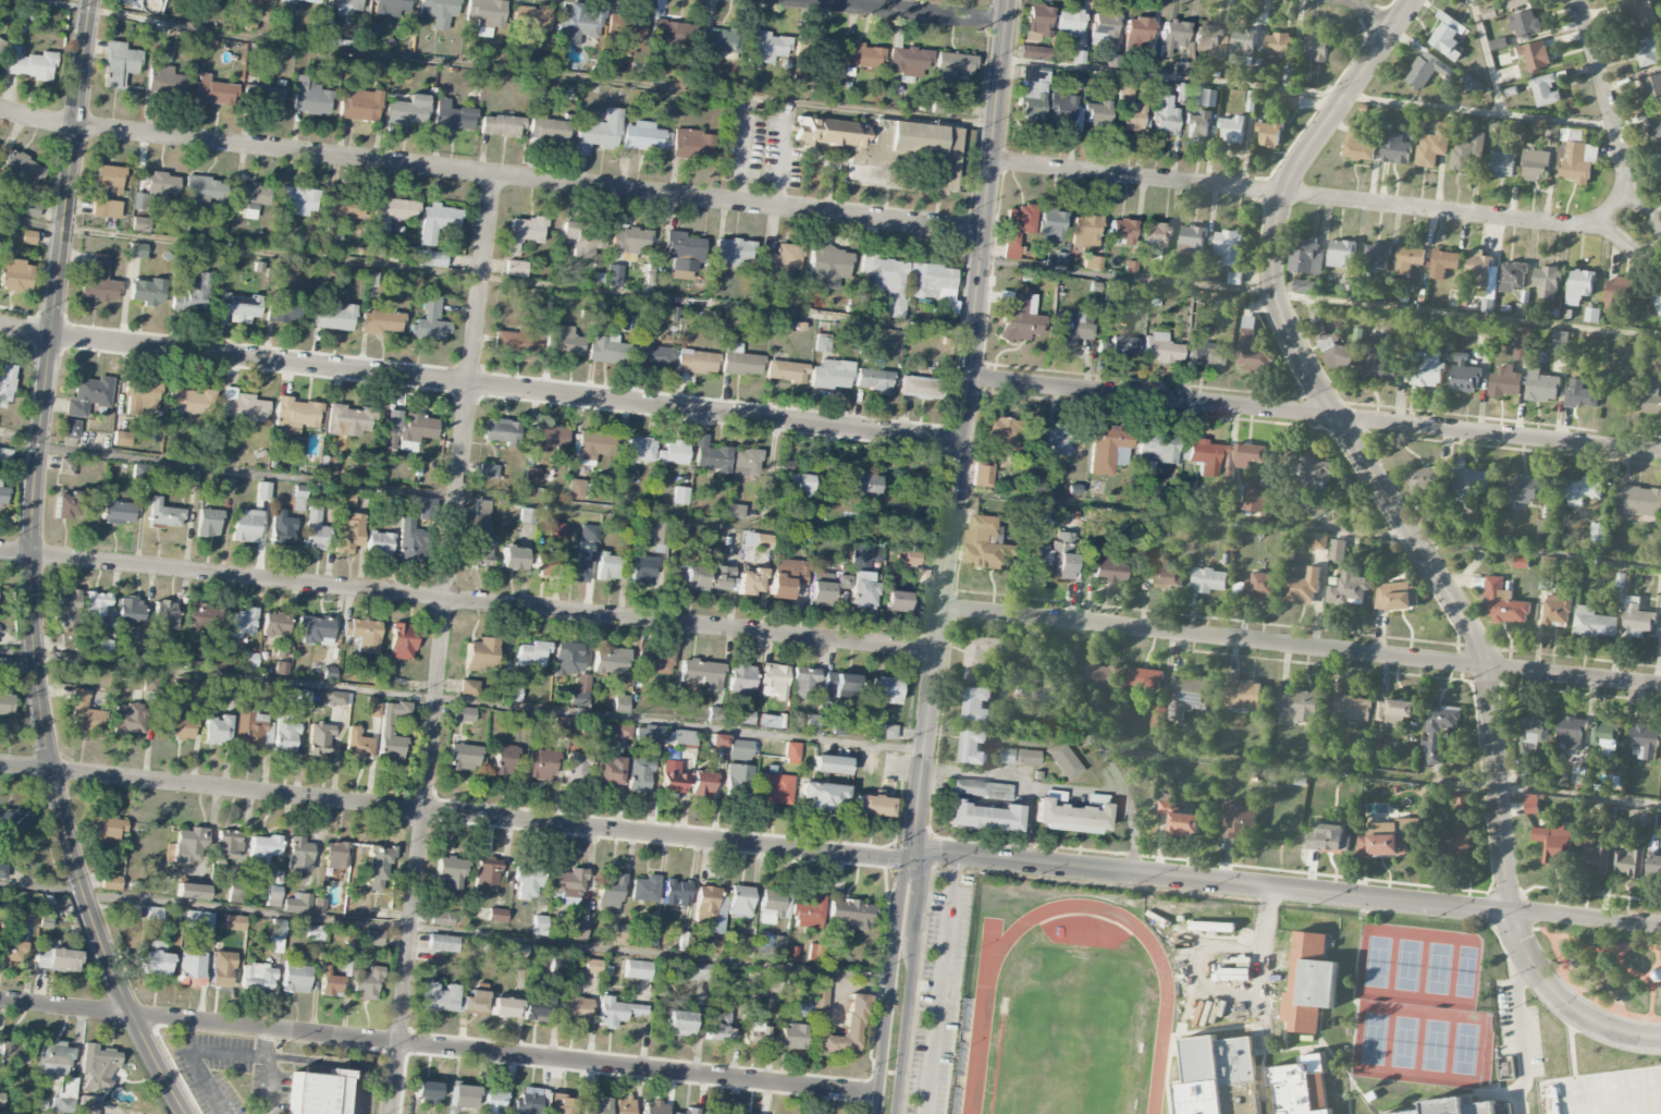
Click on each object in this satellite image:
building: (122, 1)
building: (259, 1)
building: (307, 1)
building: (1517, 3)
building: (344, 5)
building: (392, 7)
building: (439, 12)
road: (901, 12)
road: (1371, 13)
building: (485, 14)
building: (1639, 14)
building: (532, 17)
building: (1037, 20)
building: (1070, 21)
building: (579, 22)
building: (1525, 24)
building: (1104, 27)
building: (1137, 30)
building: (672, 32)
building: (627, 34)
building: (1172, 36)
building: (1208, 36)
building: (1448, 36)
building: (719, 41)
building: (1, 45)
building: (1278, 45)
building: (1498, 45)
building: (1243, 47)
building: (765, 48)
building: (1317, 48)
building: (158, 49)
building: (1033, 52)
building: (1649, 52)
building: (862, 56)
building: (1536, 57)
road: (1486, 58)
building: (909, 61)
building: (29, 63)
building: (119, 64)
building: (952, 65)
road: (506, 70)
building: (1427, 71)
building: (1253, 75)
building: (167, 81)
building: (1652, 84)
building: (1468, 85)
road: (1307, 89)
building: (212, 93)
building: (1545, 93)
building: (1031, 94)
building: (263, 96)
building: (310, 97)
building: (1209, 98)
building: (1291, 102)
building: (359, 105)
building: (939, 106)
building: (1063, 110)
building: (407, 111)
building: (1129, 111)
building: (1095, 113)
building: (1162, 113)
road: (1610, 115)
building: (452, 117)
building: (501, 125)
building: (1197, 125)
building: (546, 126)
building: (1232, 130)
building: (599, 133)
building: (1270, 133)
building: (1656, 133)
building: (642, 136)
building: (691, 144)
building: (1357, 147)
building: (1434, 147)
building: (887, 148)
building: (1394, 148)
road: (742, 150)
building: (1467, 152)
road: (782, 155)
building: (1574, 157)
building: (1502, 164)
building: (1536, 166)
building: (21, 169)
road: (489, 173)
building: (156, 188)
building: (107, 191)
building: (205, 192)
road: (1315, 197)
building: (248, 198)
building: (298, 200)
building: (346, 207)
building: (28, 208)
building: (393, 211)
building: (436, 222)
building: (139, 224)
building: (1049, 227)
building: (1016, 228)
building: (1085, 230)
building: (1, 231)
building: (1122, 231)
building: (524, 232)
building: (1155, 236)
building: (28, 237)
building: (583, 240)
building: (1192, 240)
building: (629, 241)
building: (1227, 247)
building: (137, 250)
building: (733, 252)
building: (684, 254)
building: (1341, 254)
building: (430, 258)
building: (1305, 258)
building: (1375, 258)
building: (1445, 259)
building: (1410, 261)
building: (779, 262)
building: (826, 262)
building: (1093, 262)
building: (1131, 267)
building: (515, 268)
building: (1482, 272)
building: (614, 276)
building: (1512, 277)
building: (15, 278)
road: (483, 278)
building: (884, 280)
building: (100, 282)
building: (1547, 282)
building: (932, 285)
building: (1579, 286)
building: (147, 291)
building: (196, 293)
building: (1621, 293)
building: (1383, 294)
building: (1114, 295)
road: (1318, 299)
building: (239, 307)
building: (283, 309)
building: (333, 315)
building: (1592, 315)
building: (1016, 317)
building: (430, 320)
building: (380, 321)
building: (1070, 328)
building: (516, 341)
building: (822, 343)
building: (1560, 343)
building: (564, 344)
building: (1522, 344)
building: (1118, 345)
building: (1332, 346)
building: (1161, 347)
building: (1252, 348)
building: (607, 350)
building: (1205, 351)
building: (651, 354)
building: (740, 360)
building: (696, 362)
building: (1376, 364)
building: (1429, 370)
building: (786, 371)
building: (832, 375)
building: (1463, 375)
building: (873, 380)
building: (1505, 381)
road: (478, 383)
building: (5, 384)
building: (1540, 385)
building: (921, 387)
building: (88, 395)
building: (1579, 395)
building: (143, 396)
building: (1651, 397)
building: (192, 401)
building: (242, 406)
road: (1313, 413)
building: (295, 415)
building: (394, 419)
building: (347, 420)
building: (71, 429)
road: (958, 429)
building: (417, 430)
building: (502, 431)
building: (1000, 434)
building: (549, 437)
building: (122, 439)
building: (391, 440)
building: (1059, 440)
road: (1354, 443)
building: (594, 444)
building: (1108, 448)
building: (1157, 448)
building: (640, 450)
building: (5, 454)
building: (672, 454)
building: (711, 455)
building: (1244, 455)
building: (1205, 456)
building: (746, 462)
building: (66, 466)
building: (142, 470)
building: (488, 472)
building: (1314, 472)
building: (531, 476)
building: (982, 476)
building: (619, 479)
building: (802, 483)
building: (1468, 483)
building: (861, 486)
building: (575, 488)
building: (1517, 488)
building: (263, 490)
building: (1425, 490)
building: (1582, 492)
building: (3, 494)
building: (680, 495)
building: (331, 497)
building: (347, 499)
building: (1252, 499)
building: (298, 500)
road: (471, 500)
building: (1638, 501)
building: (67, 504)
building: (1314, 504)
building: (735, 511)
building: (119, 512)
road: (35, 513)
building: (164, 514)
building: (208, 523)
building: (246, 526)
building: (282, 528)
road: (1305, 528)
building: (315, 529)
building: (556, 530)
building: (1543, 530)
building: (588, 532)
building: (660, 532)
building: (349, 534)
building: (481, 535)
building: (1597, 536)
building: (758, 540)
building: (1317, 541)
building: (379, 544)
building: (983, 544)
building: (1338, 548)
building: (1057, 554)
building: (513, 558)
building: (909, 559)
building: (542, 562)
building: (1521, 563)
building: (608, 566)
building: (576, 567)
building: (1105, 568)
building: (643, 570)
building: (842, 570)
building: (1159, 574)
building: (721, 577)
building: (787, 577)
building: (693, 578)
building: (861, 579)
building: (1208, 580)
building: (750, 582)
building: (841, 582)
building: (1260, 586)
building: (1302, 588)
building: (820, 589)
building: (1346, 589)
building: (1395, 597)
road: (467, 600)
building: (895, 601)
building: (65, 605)
building: (96, 607)
building: (130, 610)
building: (1555, 610)
building: (164, 615)
building: (202, 616)
building: (1636, 620)
building: (243, 623)
building: (1594, 624)
building: (316, 629)
building: (276, 631)
building: (362, 635)
building: (403, 641)
road: (442, 644)
road: (1300, 646)
building: (104, 648)
building: (480, 653)
building: (530, 654)
building: (982, 656)
building: (568, 658)
building: (610, 660)
building: (653, 662)
building: (3, 664)
building: (281, 668)
building: (702, 673)
building: (1103, 676)
building: (740, 677)
building: (1145, 680)
building: (774, 681)
building: (804, 684)
building: (189, 685)
building: (839, 686)
building: (469, 688)
building: (226, 689)
building: (581, 689)
building: (884, 689)
building: (510, 693)
building: (1185, 694)
building: (1243, 694)
building: (296, 696)
building: (335, 698)
building: (5, 701)
road: (460, 701)
building: (619, 703)
building: (979, 705)
building: (1300, 706)
building: (372, 707)
building: (1351, 709)
building: (84, 712)
building: (714, 713)
building: (1400, 713)
building: (463, 714)
building: (745, 717)
building: (130, 718)
building: (519, 720)
building: (771, 721)
building: (811, 723)
building: (182, 727)
building: (561, 727)
building: (249, 729)
building: (217, 730)
building: (1438, 730)
building: (1535, 730)
building: (622, 731)
building: (886, 731)
building: (392, 732)
building: (1570, 733)
building: (284, 734)
building: (648, 734)
building: (679, 737)
building: (1607, 737)
building: (319, 738)
building: (717, 740)
building: (1645, 743)
building: (357, 744)
road: (1092, 744)
building: (974, 747)
building: (739, 750)
building: (791, 752)
building: (1009, 756)
building: (464, 757)
building: (1029, 757)
building: (504, 759)
building: (1062, 760)
building: (540, 764)
building: (830, 764)
building: (576, 768)
building: (610, 772)
building: (639, 774)
road: (1380, 774)
building: (1578, 775)
building: (672, 778)
building: (738, 779)
road: (1014, 780)
building: (703, 783)
road: (1078, 787)
building: (774, 788)
building: (980, 788)
building: (822, 795)
building: (1054, 795)
building: (1462, 801)
building: (873, 805)
building: (1530, 805)
road: (454, 812)
building: (983, 817)
building: (1070, 817)
building: (1638, 818)
building: (14, 820)
building: (1238, 822)
building: (1186, 824)
building: (106, 830)
building: (1328, 840)
building: (1386, 840)
building: (1459, 843)
building: (1553, 843)
building: (188, 845)
building: (226, 846)
building: (263, 849)
building: (299, 854)
building: (336, 855)
traffic signals: (910, 858)
building: (1595, 860)
building: (1628, 861)
building: (1653, 862)
building: (378, 867)
building: (3, 869)
building: (450, 871)
building: (485, 873)
building: (527, 881)
building: (111, 882)
building: (235, 886)
building: (569, 886)
building: (645, 889)
road: (1284, 889)
building: (610, 890)
building: (192, 891)
building: (676, 891)
building: (273, 896)
building: (739, 901)
building: (297, 903)
building: (774, 905)
building: (710, 909)
building: (809, 913)
building: (851, 913)
building: (155, 914)
building: (496, 915)
building: (27, 918)
building: (199, 922)
building: (539, 926)
building: (579, 930)
road: (444, 931)
building: (316, 932)
building: (619, 933)
building: (276, 935)
building: (373, 938)
building: (442, 943)
building: (710, 943)
building: (746, 945)
building: (773, 945)
road: (1603, 947)
building: (518, 950)
building: (11, 951)
road: (1259, 956)
building: (57, 959)
park: (1375, 960)
building: (156, 963)
building: (557, 964)
park: (1405, 964)
building: (592, 967)
park: (1436, 967)
park: (1598, 968)
building: (190, 969)
building: (222, 969)
building: (637, 969)
park: (1463, 969)
building: (698, 971)
building: (1656, 974)
building: (296, 977)
road: (1641, 977)
building: (257, 978)
building: (763, 981)
building: (331, 982)
building: (1308, 982)
building: (367, 983)
road: (939, 983)
road: (888, 984)
road: (905, 984)
road: (1574, 984)
building: (439, 996)
building: (820, 997)
building: (473, 1002)
building: (803, 1002)
road: (1563, 1002)
building: (504, 1006)
building: (538, 1007)
building: (576, 1009)
building: (616, 1012)
building: (679, 1024)
building: (719, 1028)
building: (845, 1029)
building: (754, 1033)
road: (1517, 1033)
park: (1069, 1035)
building: (789, 1037)
park: (1371, 1039)
road: (266, 1041)
park: (1402, 1041)
park: (1432, 1044)
road: (438, 1046)
park: (1462, 1048)
road: (220, 1052)
building: (13, 1054)
track: (974, 1060)
building: (53, 1061)
road: (158, 1065)
building: (98, 1066)
building: (1216, 1076)
building: (1299, 1085)
building: (426, 1090)
building: (317, 1092)
park: (1601, 1092)
building: (463, 1095)
building: (1, 1099)
building: (527, 1101)
building: (63, 1102)
building: (493, 1102)
road: (1170, 1102)
road: (1515, 1102)
building: (89, 1104)
building: (561, 1104)
building: (620, 1105)
building: (595, 1106)
building: (1453, 1106)
building: (653, 1109)
building: (689, 1111)
road: (9, 1113)
building: (713, 1113)
building: (743, 1113)

